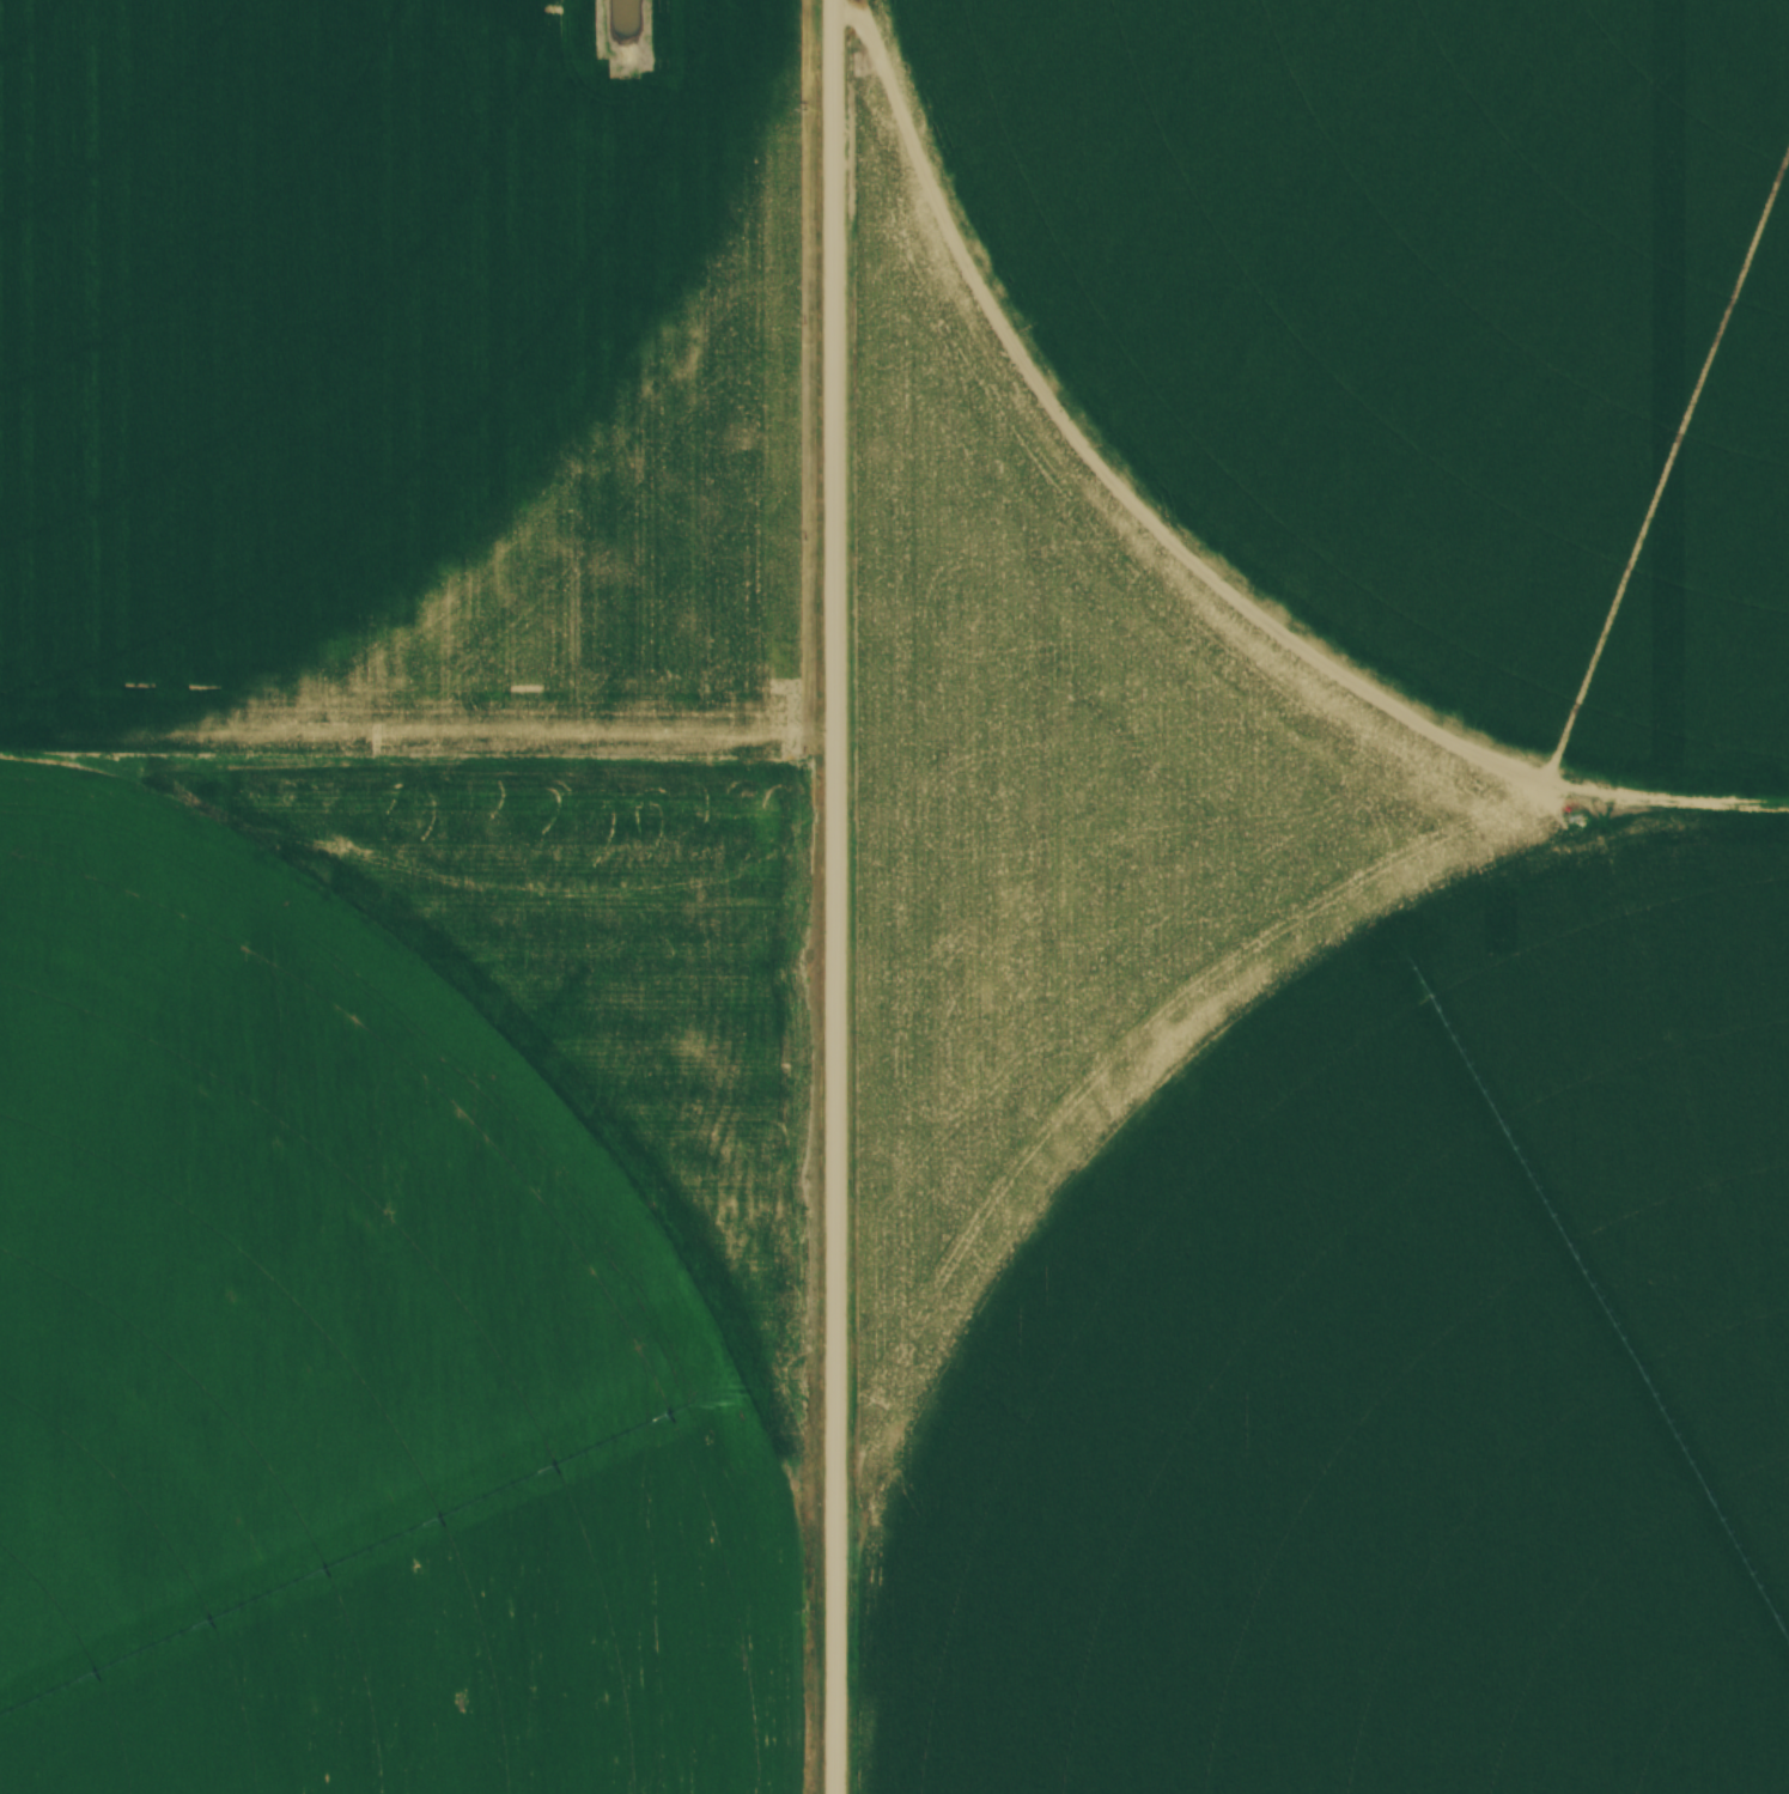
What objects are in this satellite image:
crop: (1325, 893)
crop: (403, 896)
road: (834, 896)

